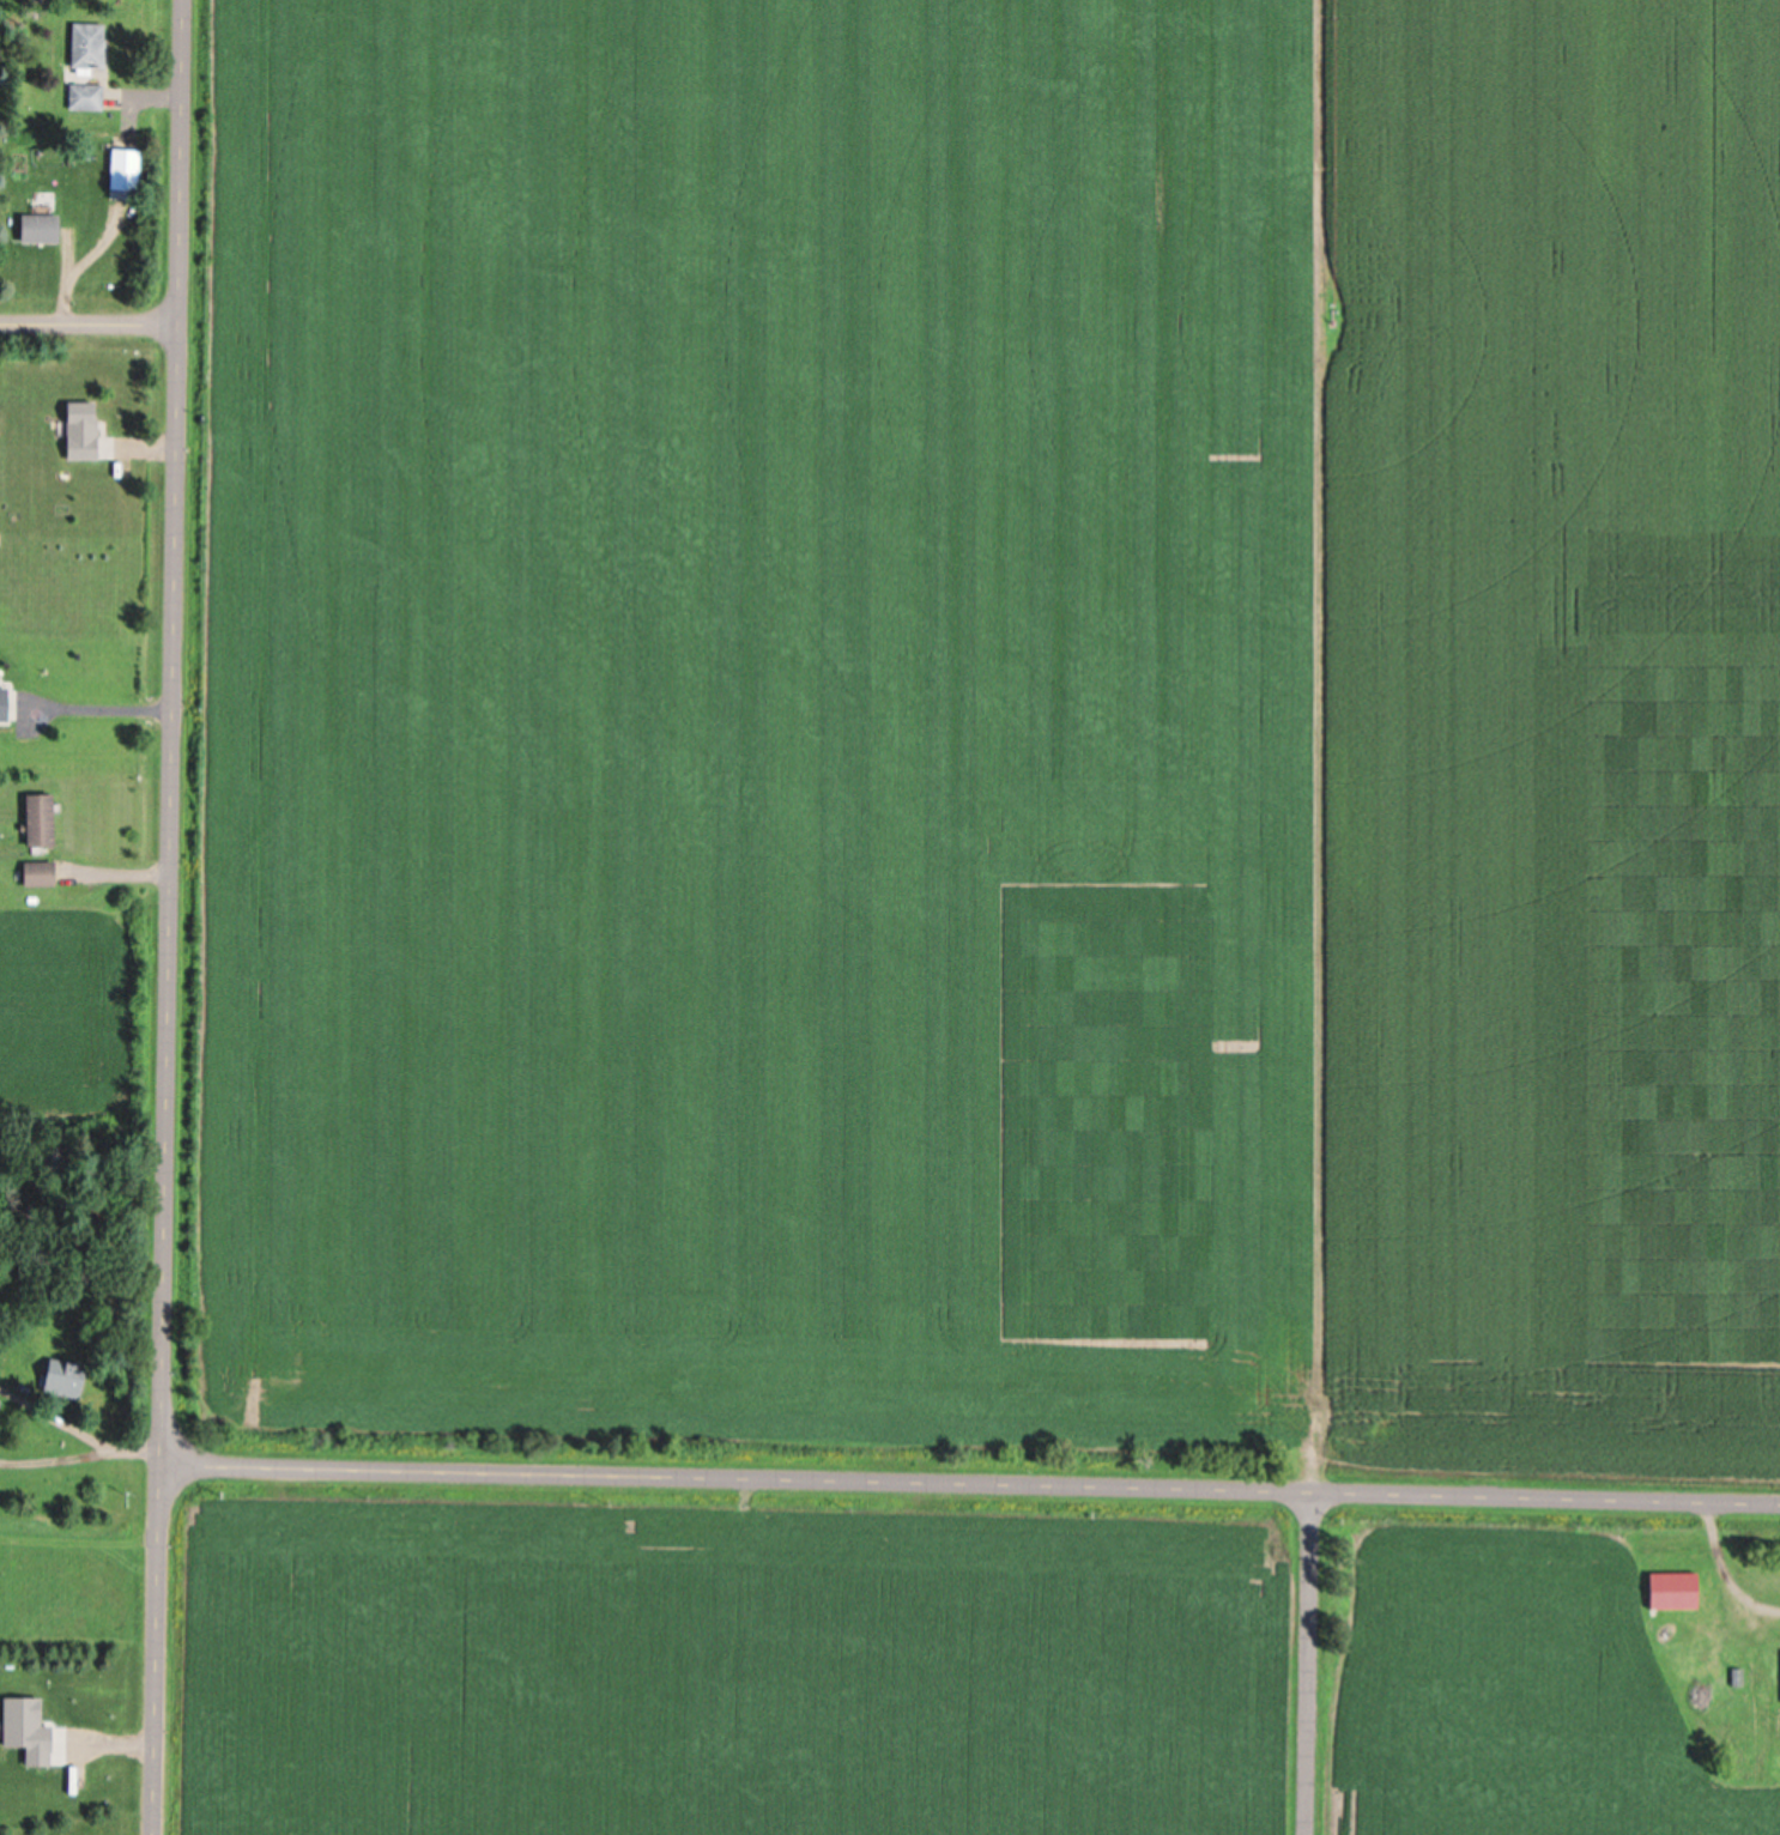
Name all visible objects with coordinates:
building: (84, 50)
building: (83, 97)
building: (120, 170)
building: (34, 228)
road: (90, 320)
building: (81, 432)
building: (0, 689)
road: (93, 703)
building: (35, 818)
building: (35, 872)
road: (169, 917)
building: (60, 1376)
road: (970, 1483)
building: (1679, 1606)
road: (1306, 1663)

